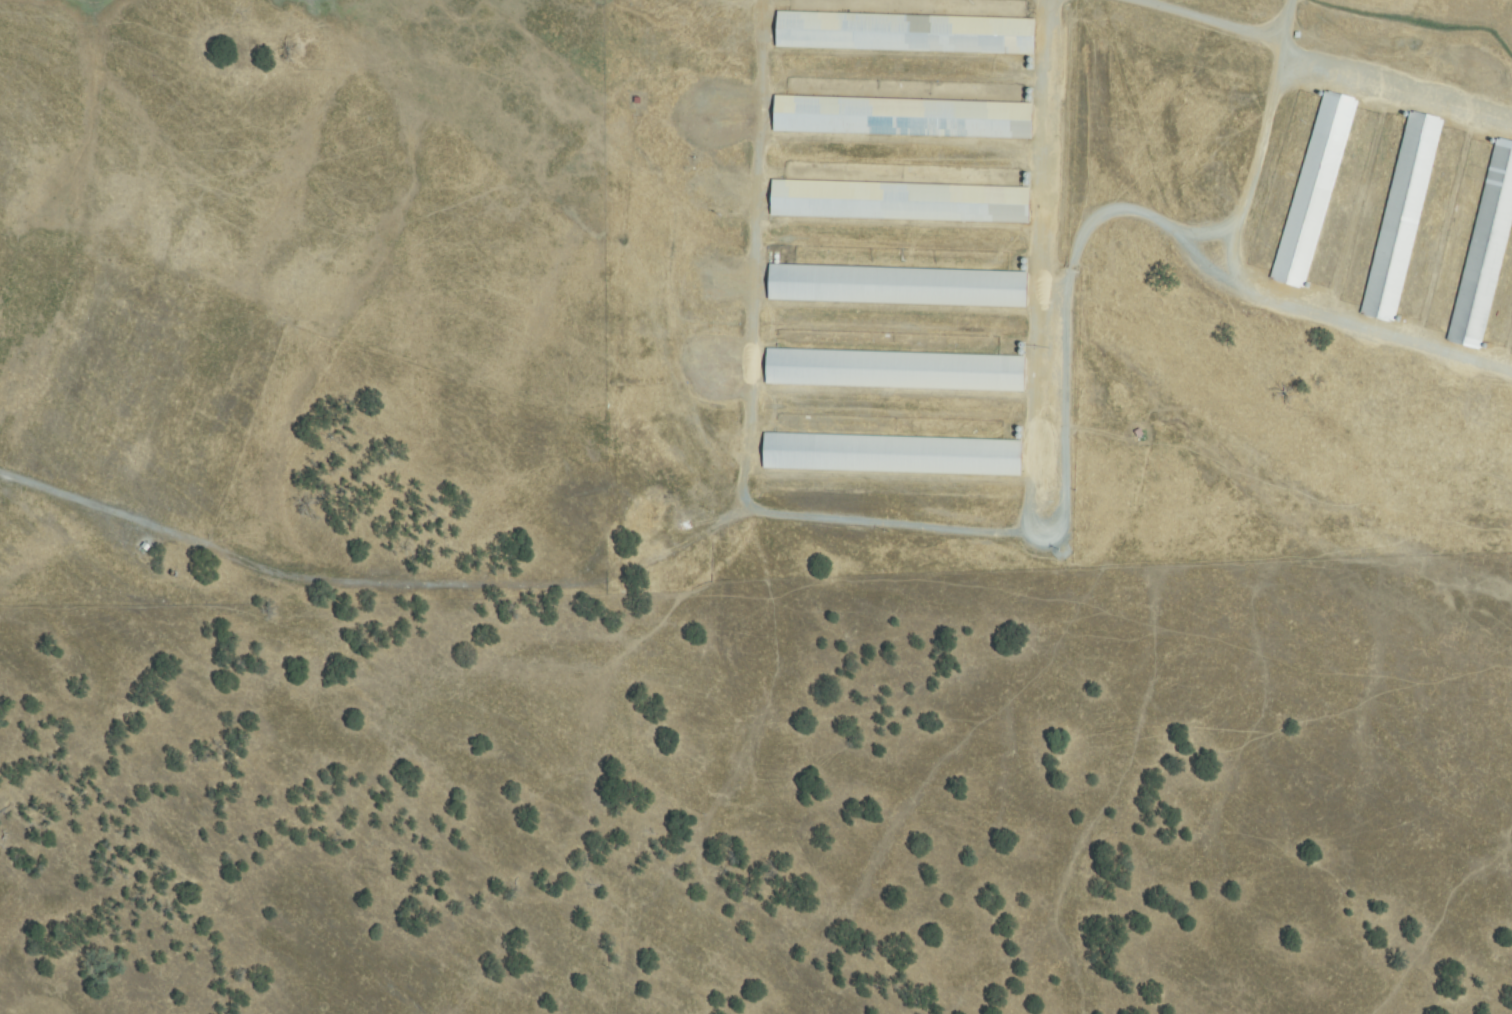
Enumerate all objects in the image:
building: (906, 33)
building: (1298, 35)
building: (903, 117)
building: (1314, 189)
building: (900, 202)
building: (1402, 216)
building: (1485, 251)
building: (898, 286)
building: (895, 370)
building: (893, 454)
road: (901, 521)

